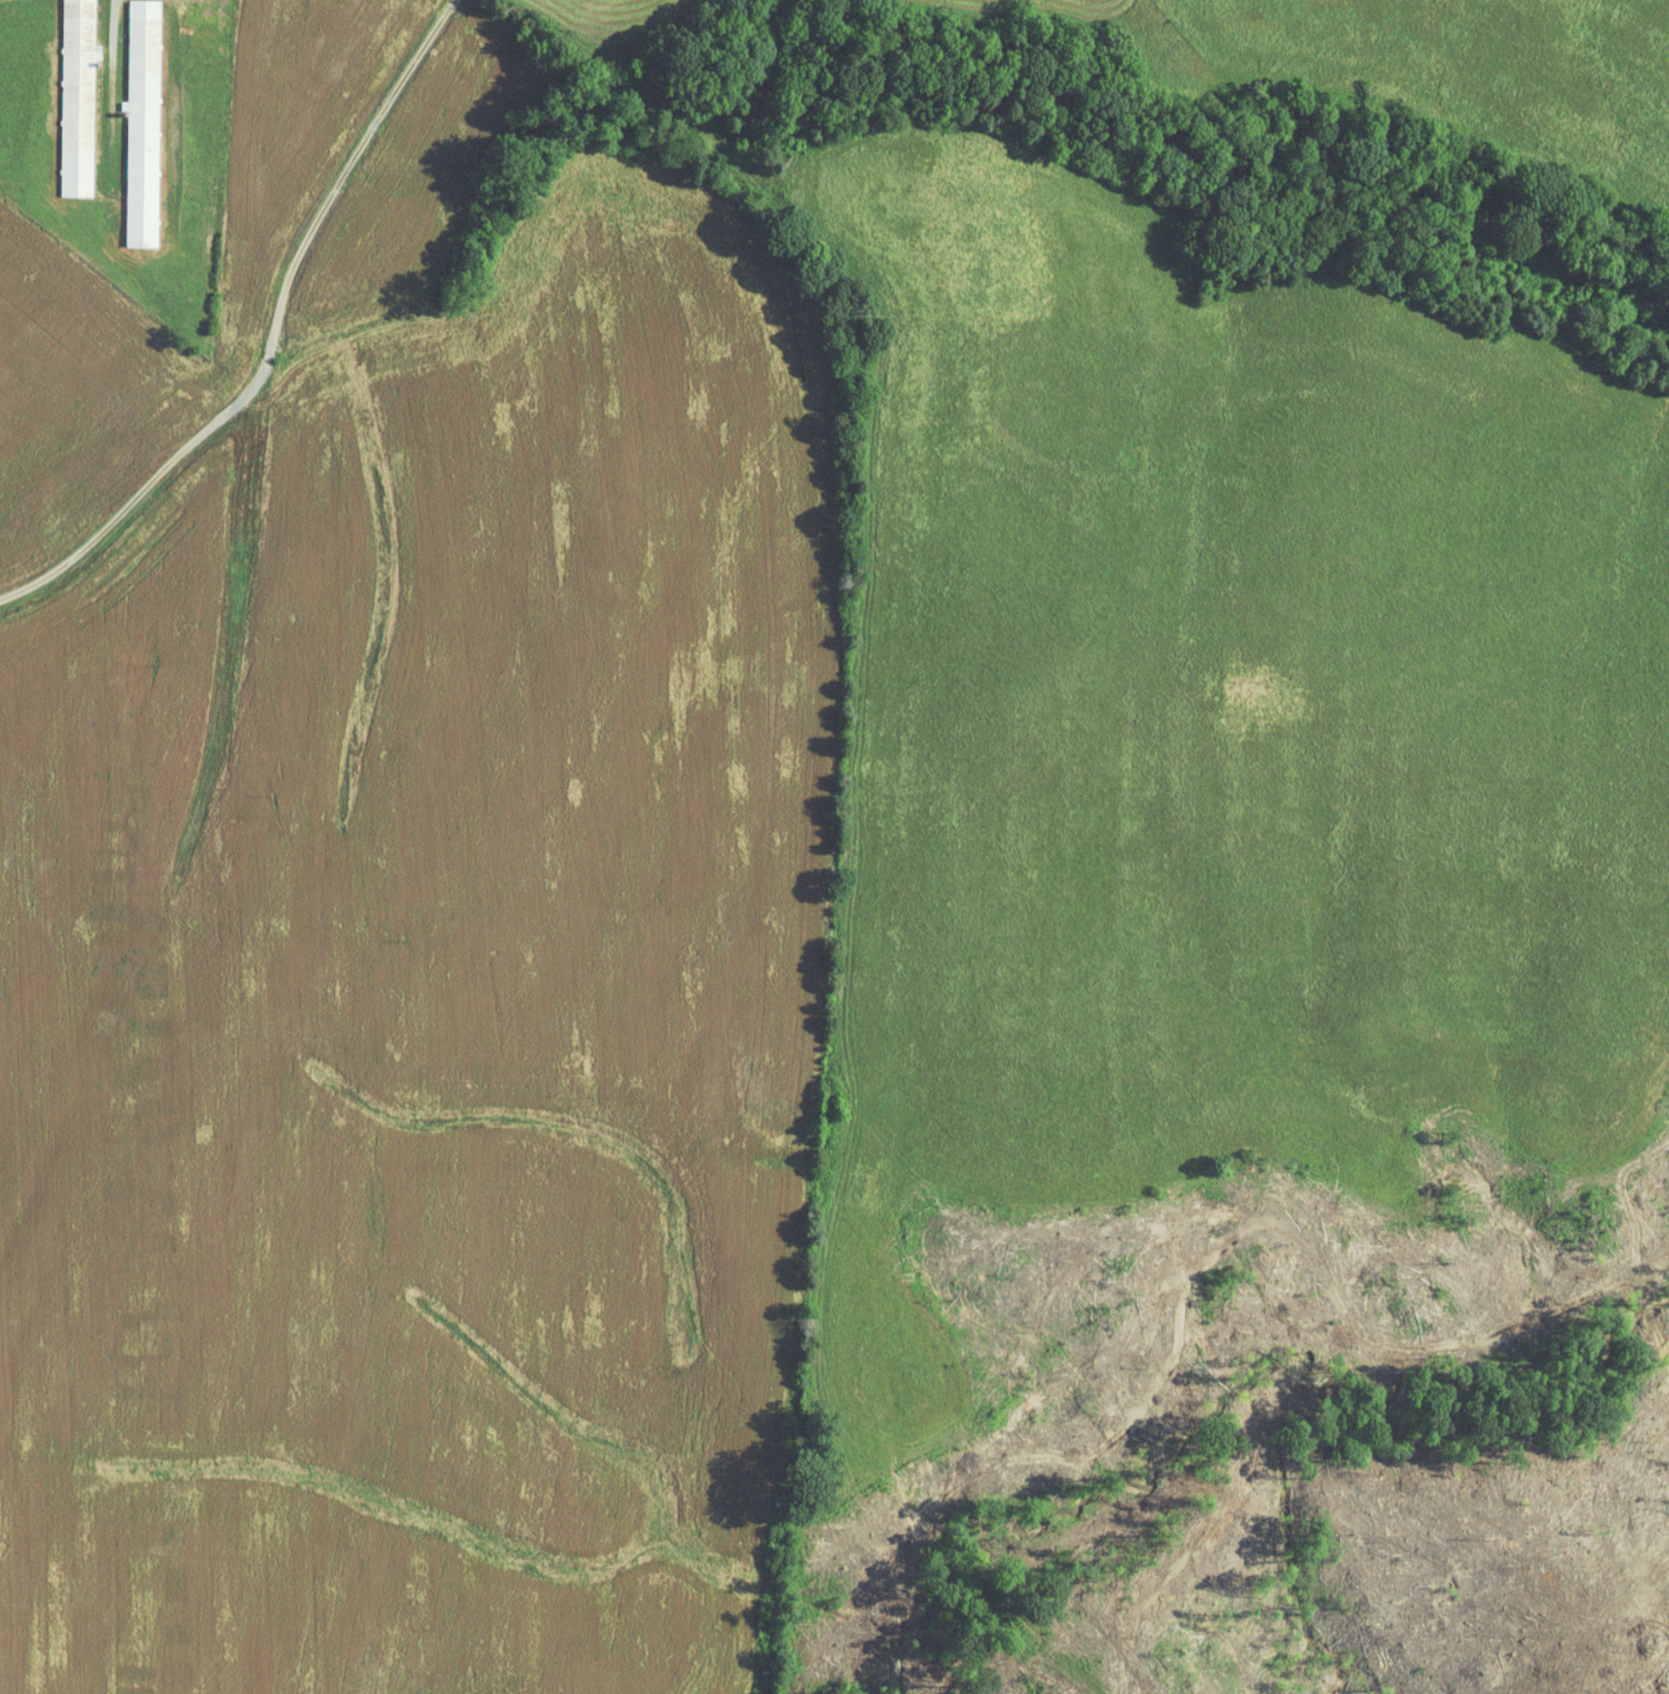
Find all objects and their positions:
building: (75, 96)
building: (139, 122)
road: (273, 337)

